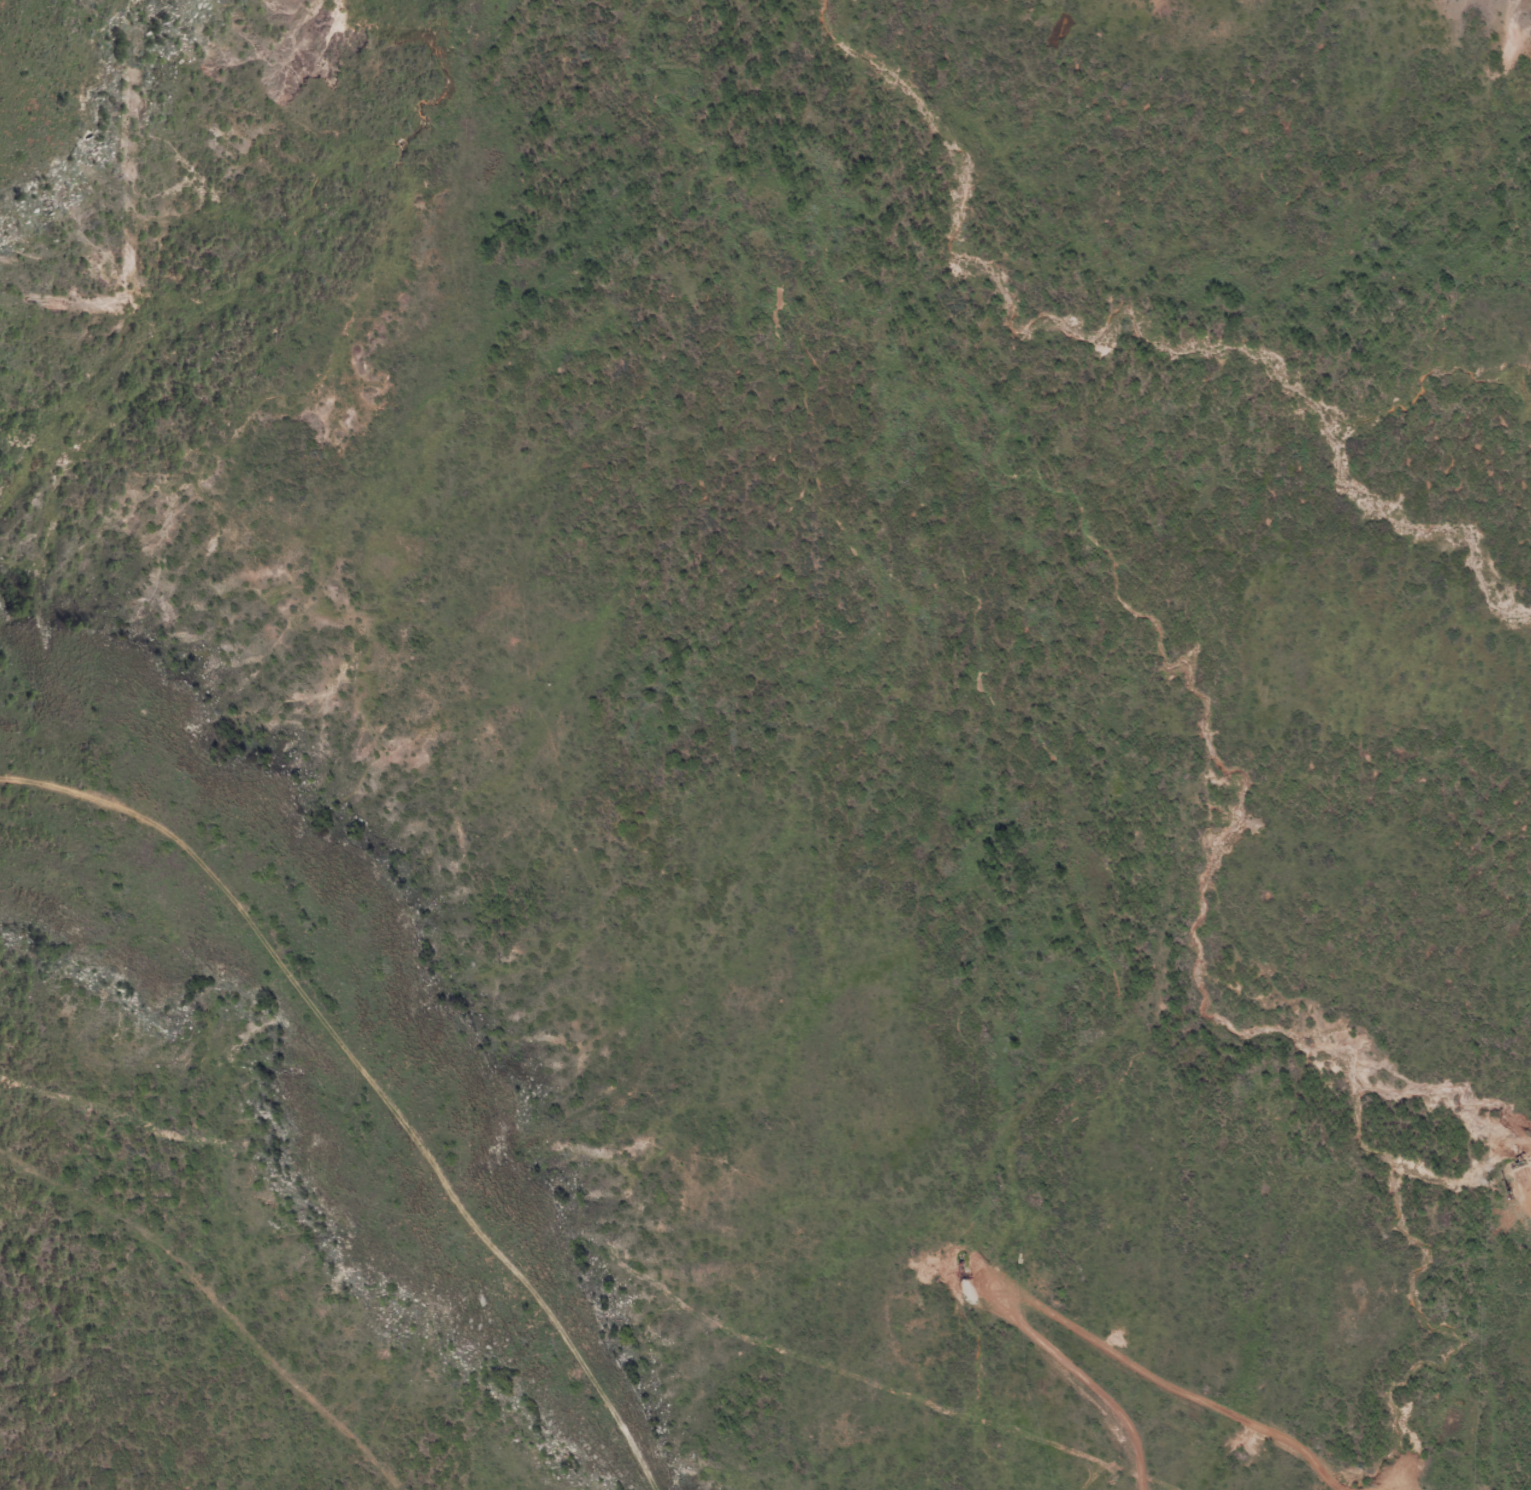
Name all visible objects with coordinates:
road: (359, 1078)
road: (101, 1392)

